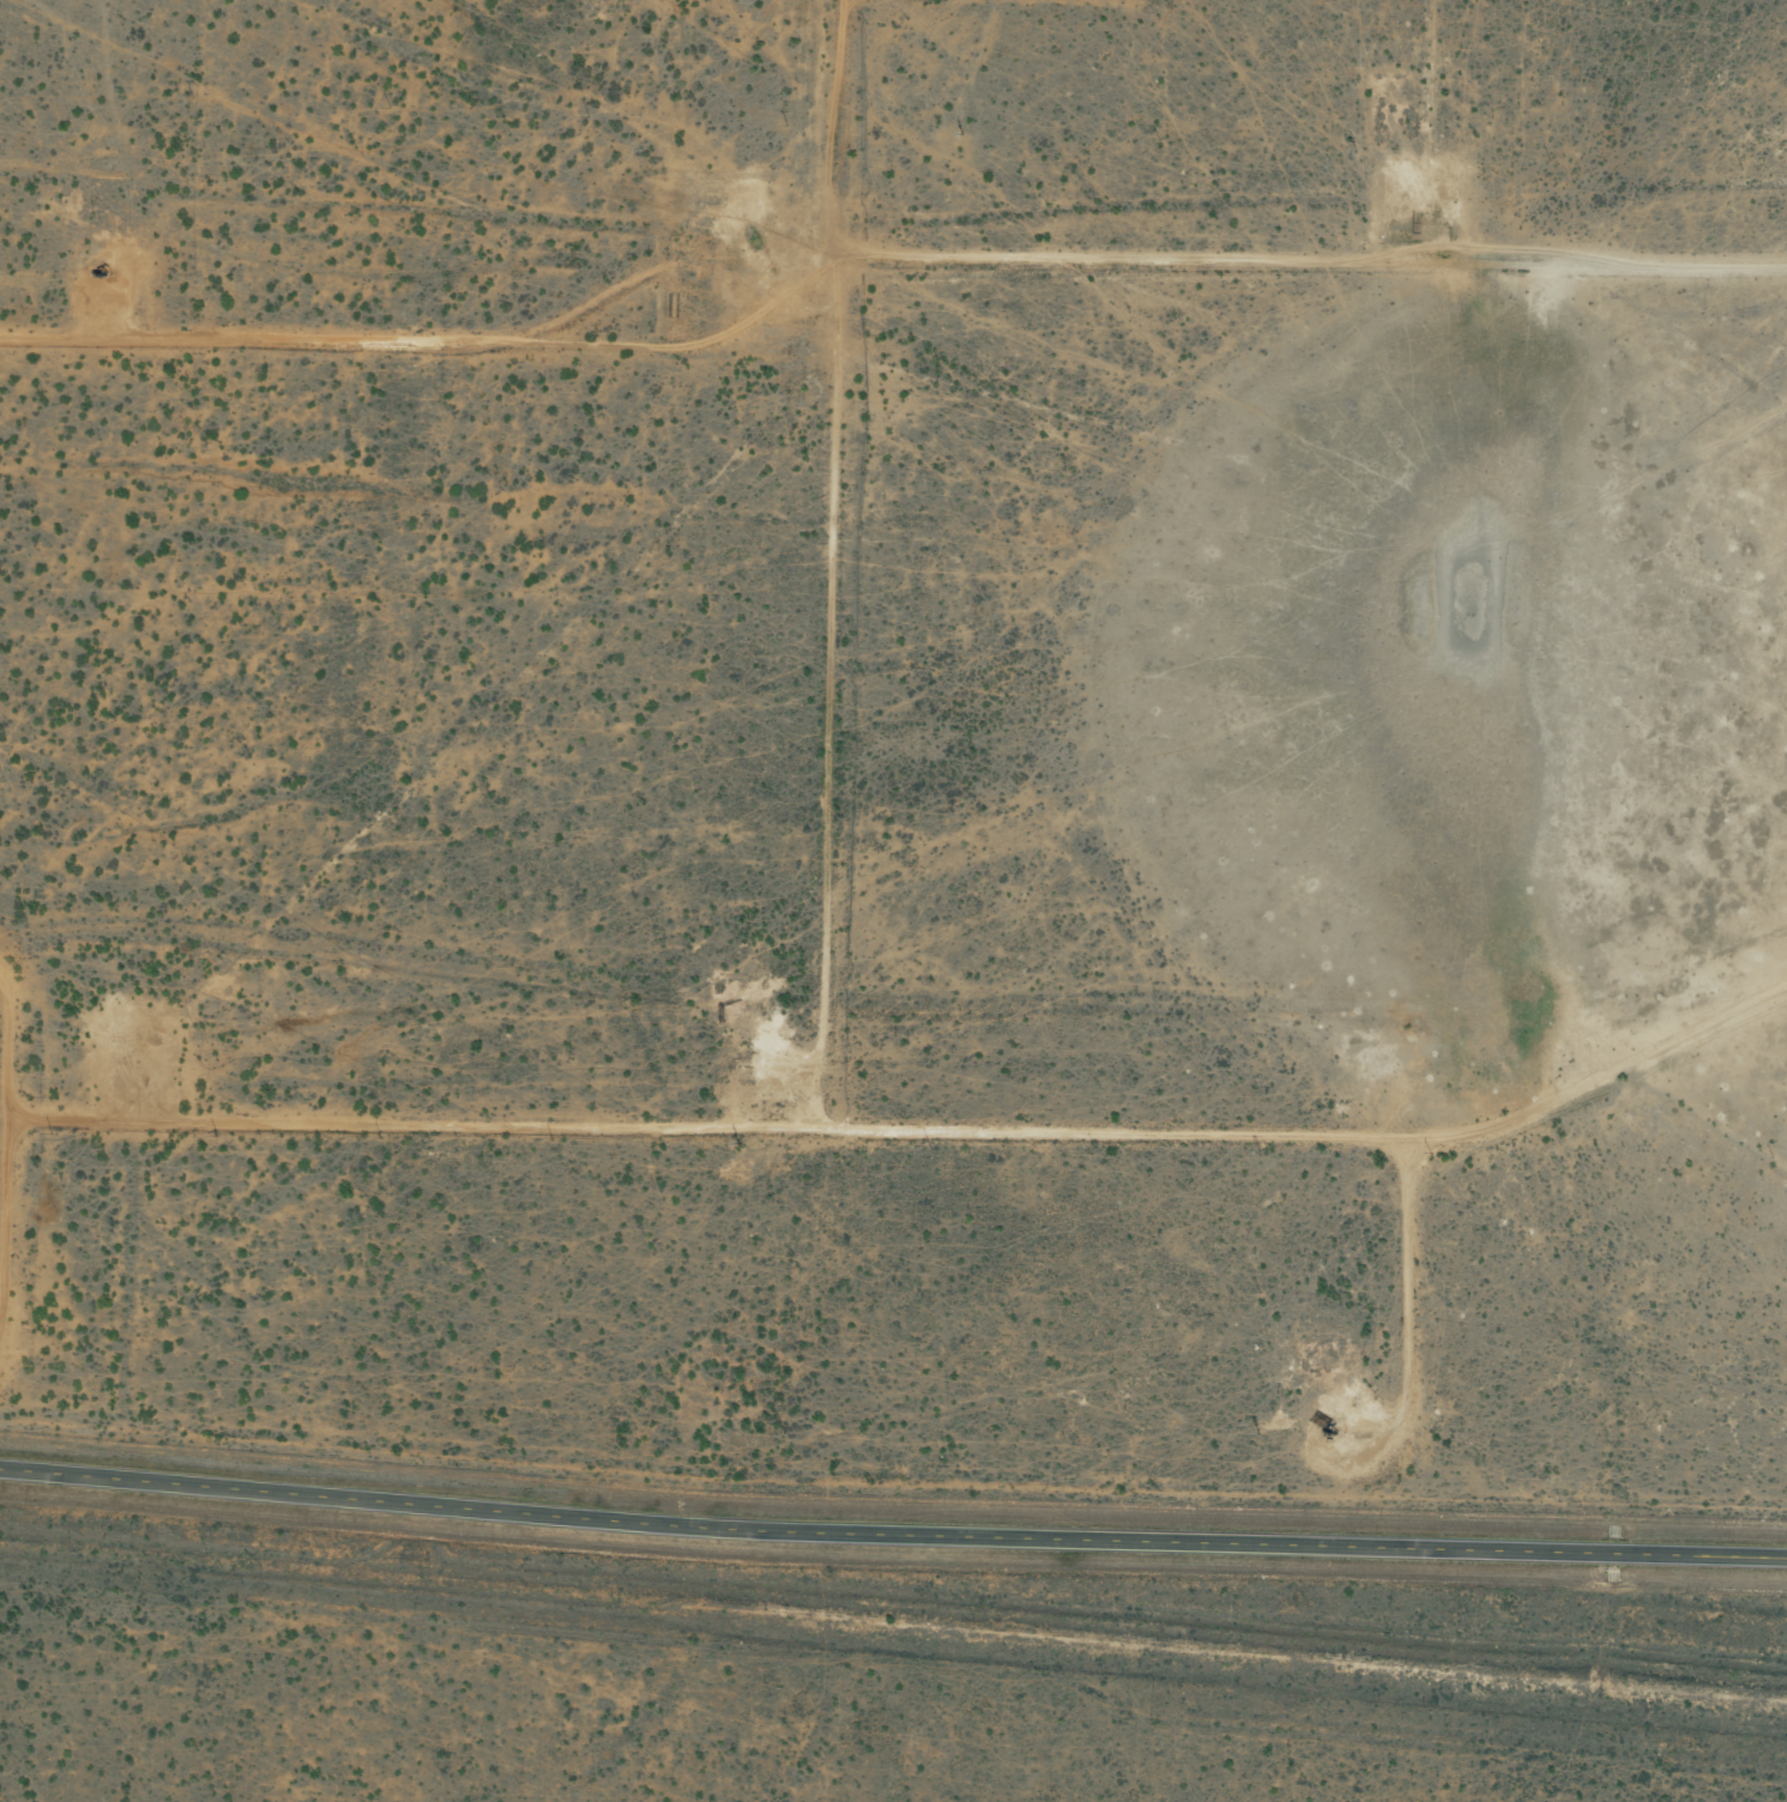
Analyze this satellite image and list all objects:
road: (892, 1524)

